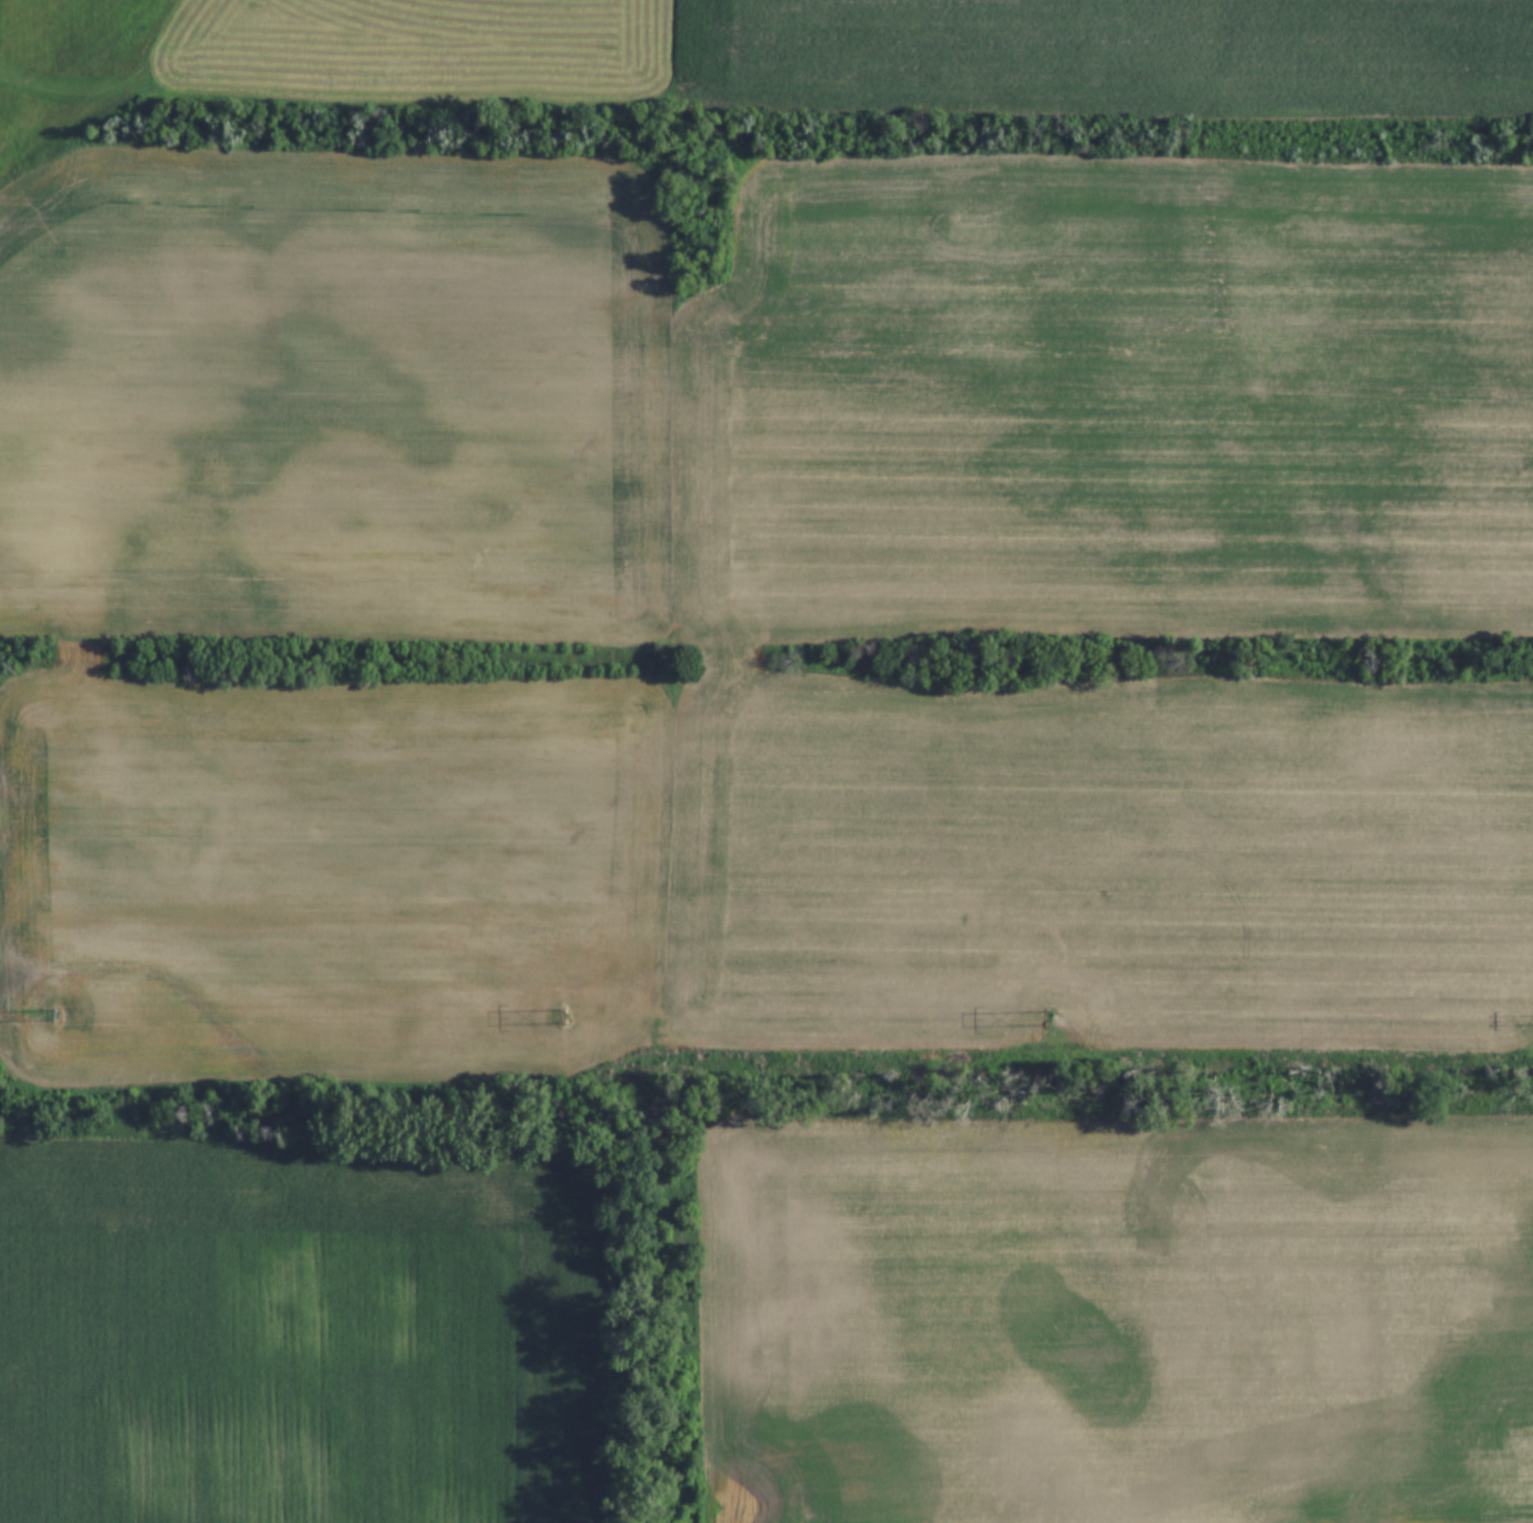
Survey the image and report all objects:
power tower: (55, 1015)
power tower: (558, 1017)
power tower: (1053, 1019)

